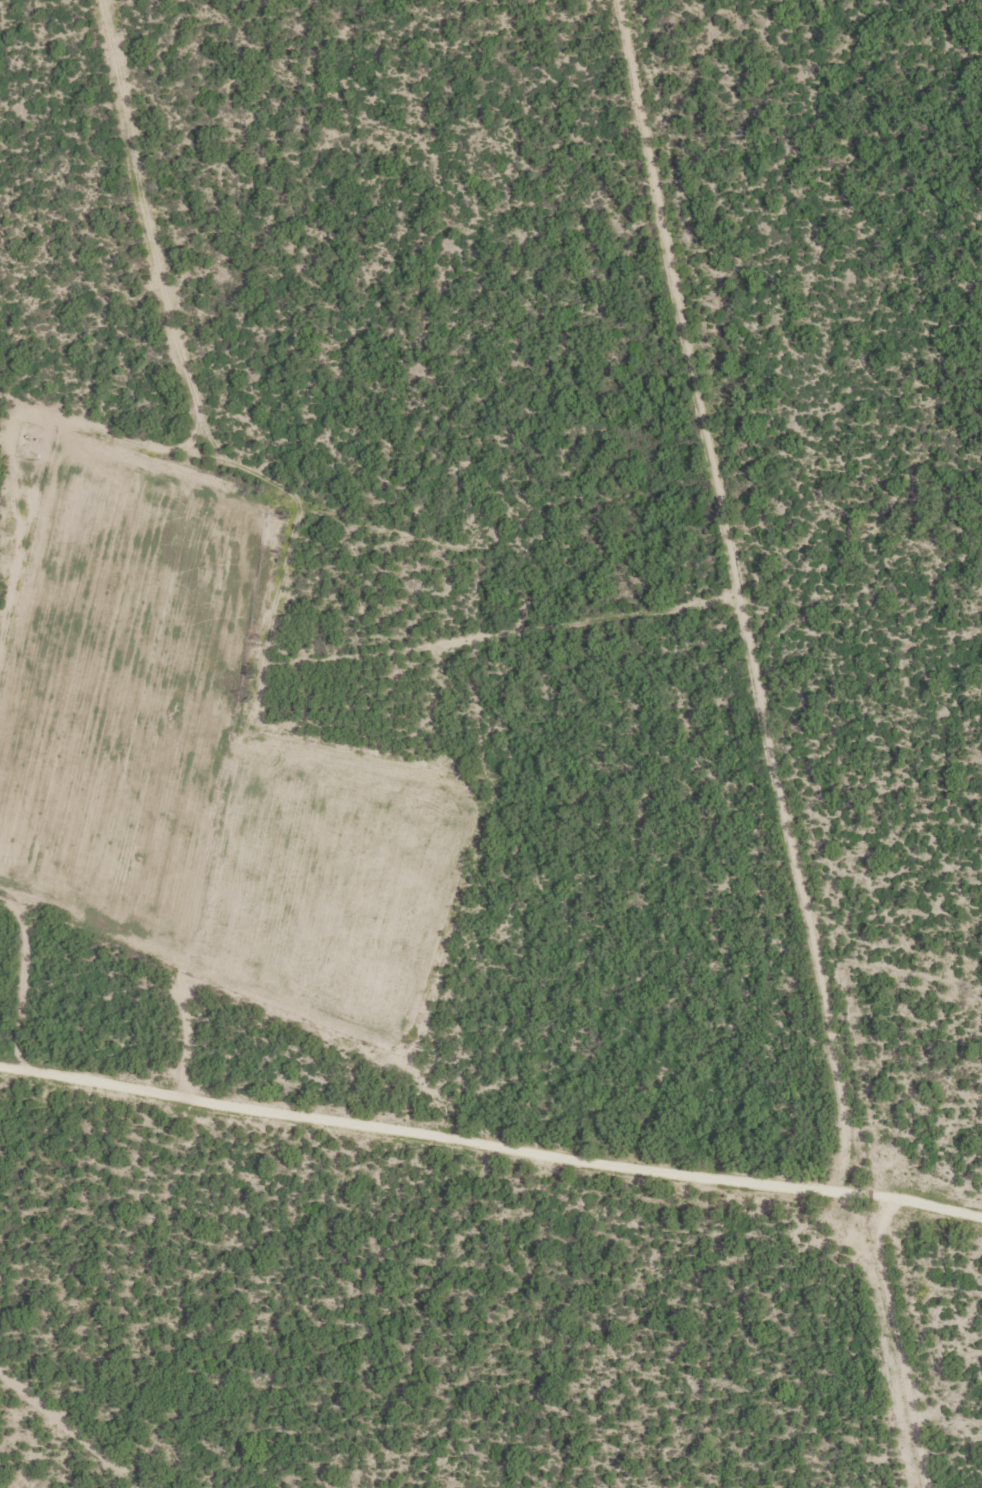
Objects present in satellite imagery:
road: (490, 1142)
road: (907, 1344)

